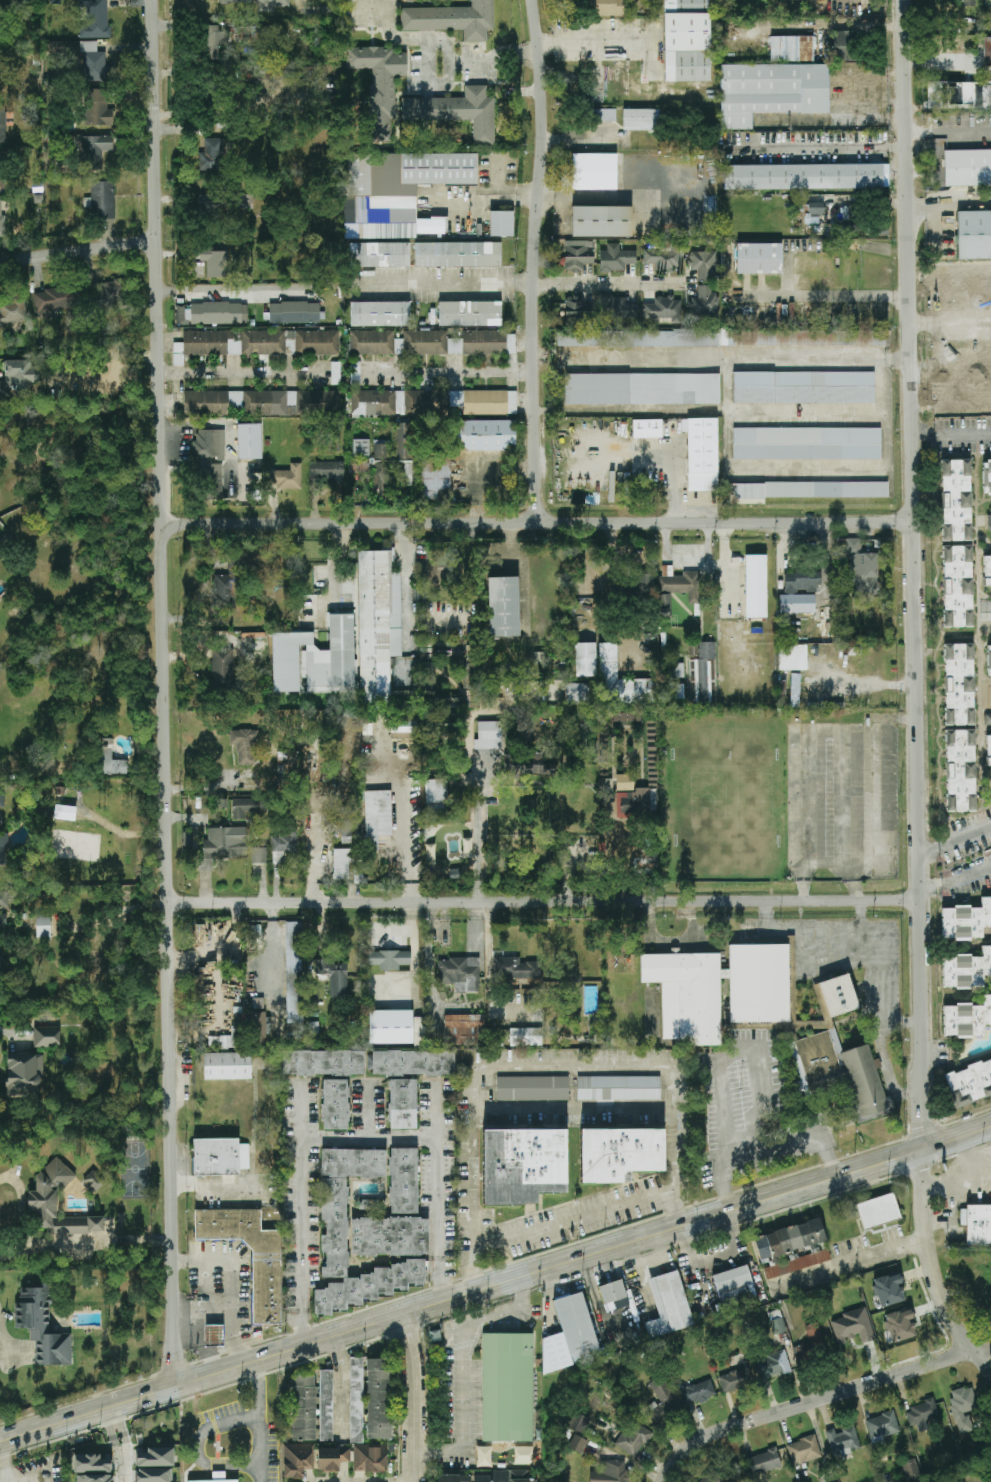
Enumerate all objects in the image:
building: (235, 1)
building: (964, 3)
building: (271, 4)
building: (607, 7)
building: (95, 19)
building: (451, 19)
building: (261, 35)
building: (687, 40)
building: (215, 41)
road: (440, 43)
building: (843, 46)
building: (791, 49)
building: (987, 51)
building: (86, 59)
building: (283, 73)
building: (0, 85)
building: (379, 85)
road: (425, 87)
building: (771, 91)
building: (98, 108)
building: (456, 111)
building: (604, 115)
building: (641, 119)
building: (2, 124)
road: (949, 133)
road: (824, 148)
road: (898, 148)
building: (95, 150)
building: (212, 155)
building: (967, 167)
building: (0, 169)
building: (594, 171)
building: (803, 177)
building: (102, 200)
building: (394, 201)
building: (245, 202)
building: (209, 208)
building: (814, 213)
building: (601, 221)
building: (2, 222)
building: (502, 223)
building: (974, 235)
road: (79, 252)
building: (457, 254)
building: (663, 255)
building: (577, 256)
building: (616, 258)
building: (758, 258)
road: (531, 261)
building: (215, 262)
building: (704, 264)
road: (448, 283)
road: (608, 284)
building: (976, 287)
road: (229, 288)
building: (112, 295)
road: (824, 296)
building: (56, 301)
building: (704, 302)
building: (616, 308)
building: (663, 309)
building: (578, 311)
building: (13, 313)
building: (294, 313)
building: (208, 314)
building: (380, 314)
building: (469, 314)
road: (951, 318)
building: (721, 338)
building: (317, 342)
building: (371, 342)
building: (454, 342)
building: (231, 343)
building: (511, 344)
building: (990, 349)
road: (896, 358)
road: (108, 365)
road: (452, 369)
road: (240, 372)
building: (335, 373)
building: (355, 373)
building: (971, 375)
building: (18, 377)
building: (803, 387)
building: (641, 389)
road: (882, 389)
building: (264, 402)
building: (421, 402)
building: (479, 402)
building: (512, 402)
building: (647, 428)
building: (485, 435)
building: (594, 435)
road: (952, 435)
building: (249, 441)
building: (209, 444)
building: (806, 444)
building: (361, 447)
building: (702, 454)
building: (393, 463)
road: (674, 469)
road: (779, 471)
building: (328, 472)
building: (986, 475)
building: (286, 477)
building: (436, 479)
building: (212, 481)
building: (807, 490)
building: (956, 500)
road: (541, 524)
road: (686, 553)
road: (726, 562)
building: (862, 568)
building: (987, 570)
road: (917, 574)
building: (801, 582)
building: (644, 585)
building: (755, 586)
building: (957, 586)
building: (227, 587)
road: (406, 587)
building: (797, 604)
building: (664, 605)
building: (503, 607)
building: (377, 623)
building: (793, 658)
building: (585, 659)
building: (315, 660)
building: (988, 660)
building: (222, 667)
building: (674, 670)
building: (620, 681)
road: (867, 684)
building: (959, 684)
building: (673, 690)
road: (166, 693)
building: (577, 694)
building: (987, 719)
building: (403, 726)
building: (489, 735)
building: (244, 745)
building: (988, 750)
building: (109, 759)
road: (813, 762)
building: (523, 764)
building: (960, 770)
building: (624, 782)
building: (434, 795)
building: (1, 800)
building: (633, 801)
building: (247, 806)
building: (65, 812)
building: (377, 817)
road: (479, 828)
road: (887, 830)
road: (956, 840)
building: (284, 844)
park: (75, 845)
building: (223, 845)
building: (3, 849)
building: (430, 853)
building: (258, 855)
road: (317, 860)
building: (348, 865)
road: (956, 879)
road: (414, 887)
building: (4, 899)
road: (545, 902)
road: (111, 916)
building: (3, 918)
building: (966, 921)
building: (43, 926)
building: (389, 959)
building: (1, 962)
building: (514, 969)
building: (294, 973)
building: (459, 974)
building: (334, 976)
road: (491, 978)
building: (718, 990)
building: (838, 995)
building: (258, 1003)
building: (967, 1018)
building: (390, 1027)
building: (259, 1030)
building: (464, 1030)
building: (46, 1036)
building: (525, 1037)
building: (323, 1063)
building: (227, 1066)
building: (839, 1071)
road: (721, 1073)
building: (23, 1076)
building: (409, 1079)
building: (969, 1083)
building: (532, 1088)
building: (619, 1088)
building: (335, 1104)
road: (479, 1104)
road: (372, 1137)
road: (792, 1140)
building: (619, 1154)
building: (219, 1157)
road: (967, 1160)
building: (522, 1165)
park: (135, 1169)
building: (94, 1180)
road: (958, 1186)
road: (439, 1192)
building: (42, 1201)
building: (878, 1211)
building: (395, 1215)
road: (303, 1218)
road: (954, 1218)
building: (976, 1225)
building: (335, 1232)
building: (792, 1248)
road: (715, 1255)
road: (474, 1258)
road: (858, 1258)
road: (936, 1265)
building: (266, 1282)
road: (495, 1284)
building: (734, 1285)
road: (232, 1287)
building: (888, 1290)
building: (613, 1296)
building: (668, 1305)
road: (198, 1318)
road: (187, 1321)
building: (777, 1322)
building: (899, 1325)
building: (41, 1327)
building: (852, 1327)
building: (214, 1335)
building: (571, 1335)
building: (434, 1336)
building: (811, 1345)
road: (6, 1351)
road: (985, 1352)
building: (773, 1365)
road: (462, 1368)
building: (735, 1380)
road: (341, 1382)
building: (507, 1387)
building: (698, 1392)
road: (416, 1397)
building: (378, 1398)
building: (356, 1400)
building: (663, 1401)
road: (812, 1401)
building: (326, 1405)
building: (303, 1408)
building: (963, 1408)
road: (109, 1409)
building: (922, 1414)
road: (258, 1421)
building: (578, 1423)
building: (882, 1426)
park: (157, 1428)
building: (633, 1439)
building: (842, 1441)
building: (578, 1444)
road: (198, 1447)
building: (803, 1450)
building: (484, 1456)
building: (332, 1458)
building: (369, 1458)
building: (297, 1460)
building: (764, 1461)
building: (91, 1463)
road: (3, 1464)
building: (910, 1469)
road: (123, 1470)
building: (611, 1472)
building: (491, 1476)
building: (523, 1476)
road: (26, 1477)
building: (218, 1477)
building: (713, 1477)
building: (95, 1478)
building: (453, 1478)
road: (6, 1479)

